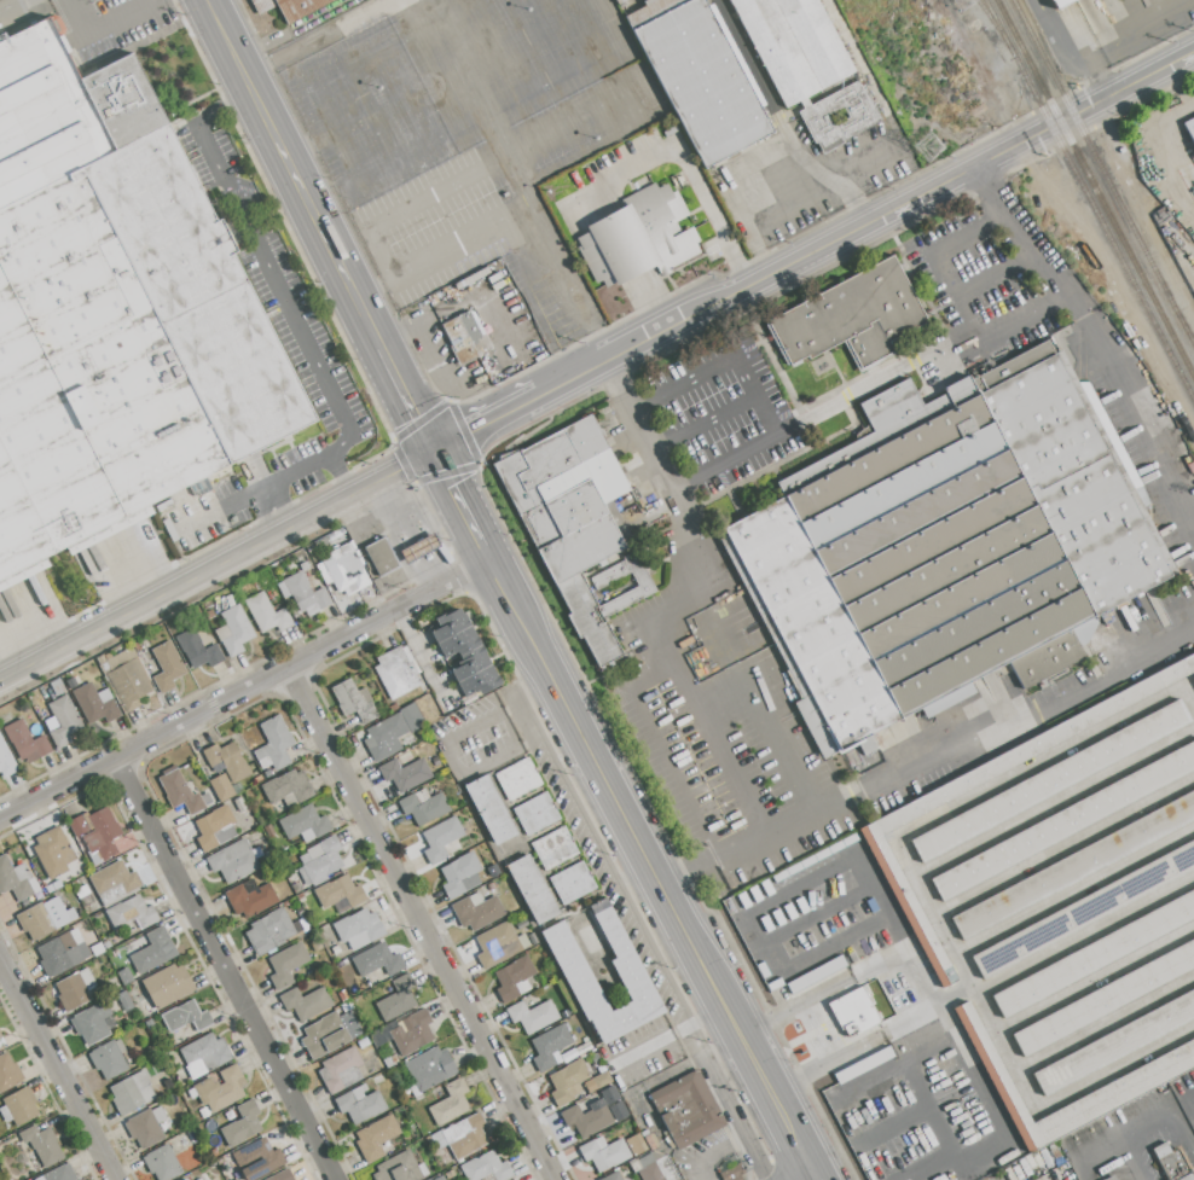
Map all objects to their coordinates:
building: (616, 1)
building: (1060, 2)
power tower: (962, 5)
building: (289, 7)
road: (1152, 7)
railway: (986, 13)
road: (102, 23)
road: (289, 27)
road: (1059, 43)
building: (794, 45)
road: (239, 69)
building: (699, 76)
road: (1103, 82)
road: (1171, 88)
road: (220, 104)
building: (63, 111)
road: (1173, 112)
building: (837, 116)
road: (779, 121)
building: (1189, 128)
power tower: (927, 150)
road: (1175, 163)
road: (688, 164)
railway: (1103, 172)
railway: (1095, 187)
railway: (1089, 198)
road: (427, 199)
road: (312, 213)
road: (866, 222)
building: (638, 237)
road: (448, 244)
road: (378, 254)
road: (272, 278)
road: (992, 280)
road: (371, 285)
road: (954, 303)
building: (852, 315)
road: (365, 318)
building: (462, 336)
road: (401, 339)
railway: (1192, 339)
road: (1091, 341)
building: (124, 348)
road: (514, 349)
road: (723, 361)
road: (407, 401)
road: (821, 409)
road: (486, 423)
traffic signals: (433, 452)
road: (340, 475)
road: (286, 476)
road: (673, 490)
road: (457, 499)
road: (219, 510)
building: (570, 517)
building: (419, 548)
building: (945, 548)
building: (381, 557)
road: (216, 565)
building: (303, 565)
building: (343, 570)
building: (742, 579)
building: (602, 582)
building: (306, 594)
road: (512, 605)
building: (266, 614)
building: (233, 630)
building: (135, 646)
building: (197, 650)
building: (464, 652)
building: (143, 655)
building: (92, 667)
building: (167, 667)
building: (396, 672)
building: (128, 684)
building: (57, 687)
road: (244, 688)
building: (470, 699)
building: (354, 701)
building: (94, 707)
building: (394, 707)
building: (411, 717)
building: (62, 721)
road: (773, 734)
building: (386, 737)
road: (712, 737)
building: (25, 743)
building: (274, 744)
road: (672, 749)
road: (452, 757)
building: (6, 760)
building: (228, 761)
road: (928, 762)
building: (267, 773)
building: (405, 773)
building: (518, 778)
building: (257, 779)
building: (224, 787)
building: (288, 789)
building: (179, 790)
building: (240, 804)
building: (423, 807)
building: (390, 809)
building: (488, 810)
building: (537, 814)
building: (465, 819)
road: (932, 820)
building: (105, 822)
building: (303, 822)
building: (77, 825)
building: (215, 827)
building: (269, 831)
building: (473, 838)
building: (440, 839)
building: (553, 848)
road: (638, 849)
building: (51, 854)
building: (233, 861)
building: (320, 861)
road: (847, 861)
building: (457, 874)
building: (16, 879)
building: (114, 882)
building: (573, 883)
building: (75, 885)
building: (52, 887)
building: (491, 887)
building: (296, 888)
building: (532, 890)
building: (82, 891)
building: (340, 894)
building: (301, 897)
building: (250, 899)
building: (24, 901)
building: (1067, 901)
building: (477, 911)
building: (131, 913)
building: (44, 918)
road: (421, 923)
building: (522, 924)
building: (359, 929)
building: (271, 931)
building: (106, 944)
building: (499, 944)
road: (906, 948)
building: (97, 949)
building: (336, 949)
building: (152, 951)
building: (63, 952)
road: (805, 953)
building: (377, 960)
building: (286, 964)
road: (224, 969)
building: (124, 976)
building: (512, 977)
building: (580, 981)
building: (167, 984)
building: (76, 989)
building: (342, 995)
building: (123, 999)
building: (398, 999)
building: (306, 1002)
road: (794, 1005)
building: (347, 1006)
building: (853, 1012)
building: (533, 1015)
building: (185, 1017)
building: (94, 1022)
building: (150, 1024)
building: (410, 1029)
building: (328, 1035)
building: (1, 1041)
building: (363, 1042)
road: (1002, 1046)
building: (551, 1047)
building: (584, 1048)
building: (151, 1050)
building: (204, 1054)
building: (109, 1059)
building: (390, 1060)
road: (752, 1063)
road: (823, 1063)
road: (1114, 1066)
building: (341, 1069)
building: (429, 1069)
road: (57, 1070)
building: (394, 1070)
building: (8, 1073)
building: (597, 1082)
building: (568, 1083)
road: (915, 1085)
building: (1187, 1088)
building: (221, 1089)
building: (132, 1092)
building: (191, 1093)
building: (451, 1103)
building: (359, 1104)
building: (18, 1106)
building: (686, 1108)
building: (203, 1112)
building: (625, 1115)
road: (998, 1116)
road: (1167, 1117)
building: (587, 1118)
building: (211, 1124)
building: (242, 1124)
building: (145, 1127)
road: (787, 1130)
building: (376, 1137)
building: (460, 1137)
building: (651, 1141)
building: (421, 1143)
building: (42, 1145)
building: (665, 1146)
road: (1112, 1146)
building: (641, 1147)
building: (604, 1152)
building: (257, 1159)
building: (162, 1163)
building: (654, 1167)
building: (1175, 1167)
building: (400, 1168)
building: (486, 1168)
building: (732, 1173)
building: (60, 1174)
building: (450, 1174)
road: (792, 1174)
road: (805, 1174)
building: (282, 1175)
building: (612, 1176)
building: (1109, 1178)
building: (39, 1179)
building: (199, 1179)

